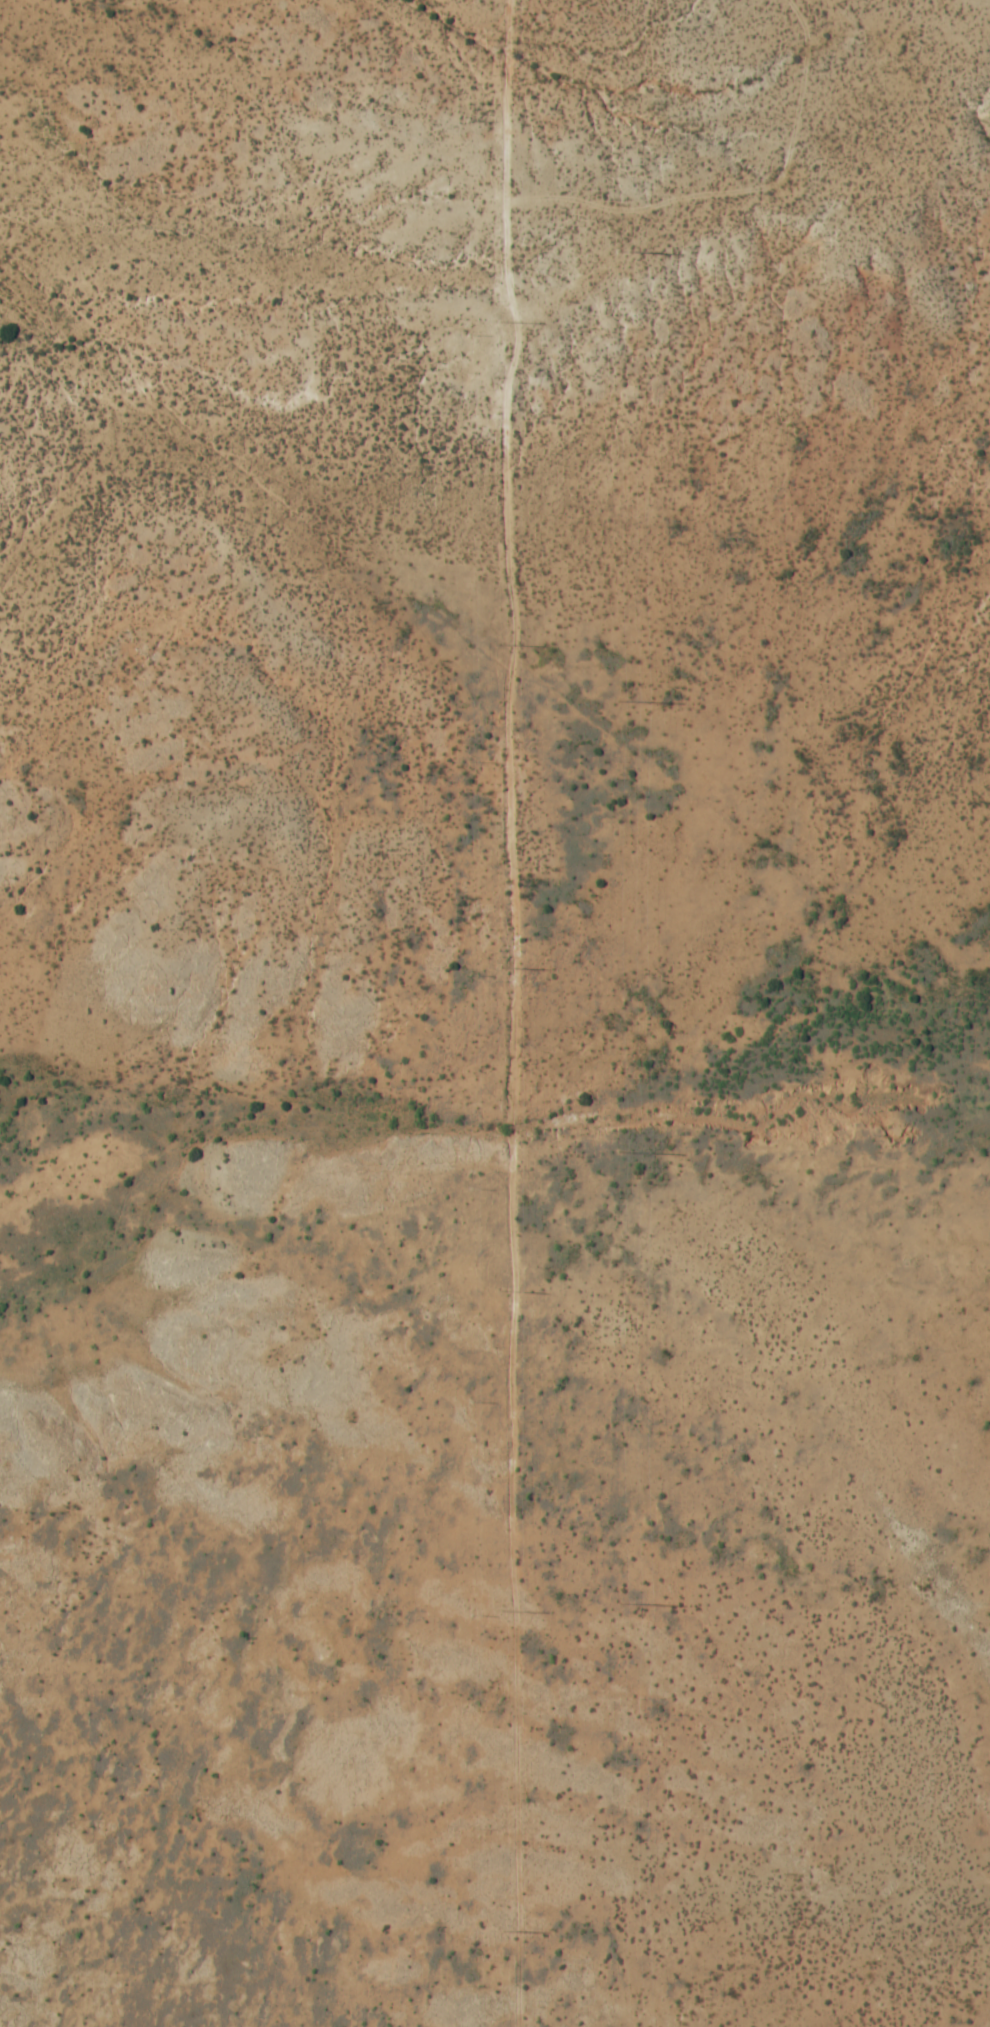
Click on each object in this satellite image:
power tower: (619, 251)
power tower: (504, 323)
power tower: (505, 645)
power tower: (622, 703)
power tower: (504, 968)
power tower: (625, 1150)
power tower: (506, 1291)
power tower: (627, 1602)
power tower: (508, 1611)
power tower: (511, 1931)

